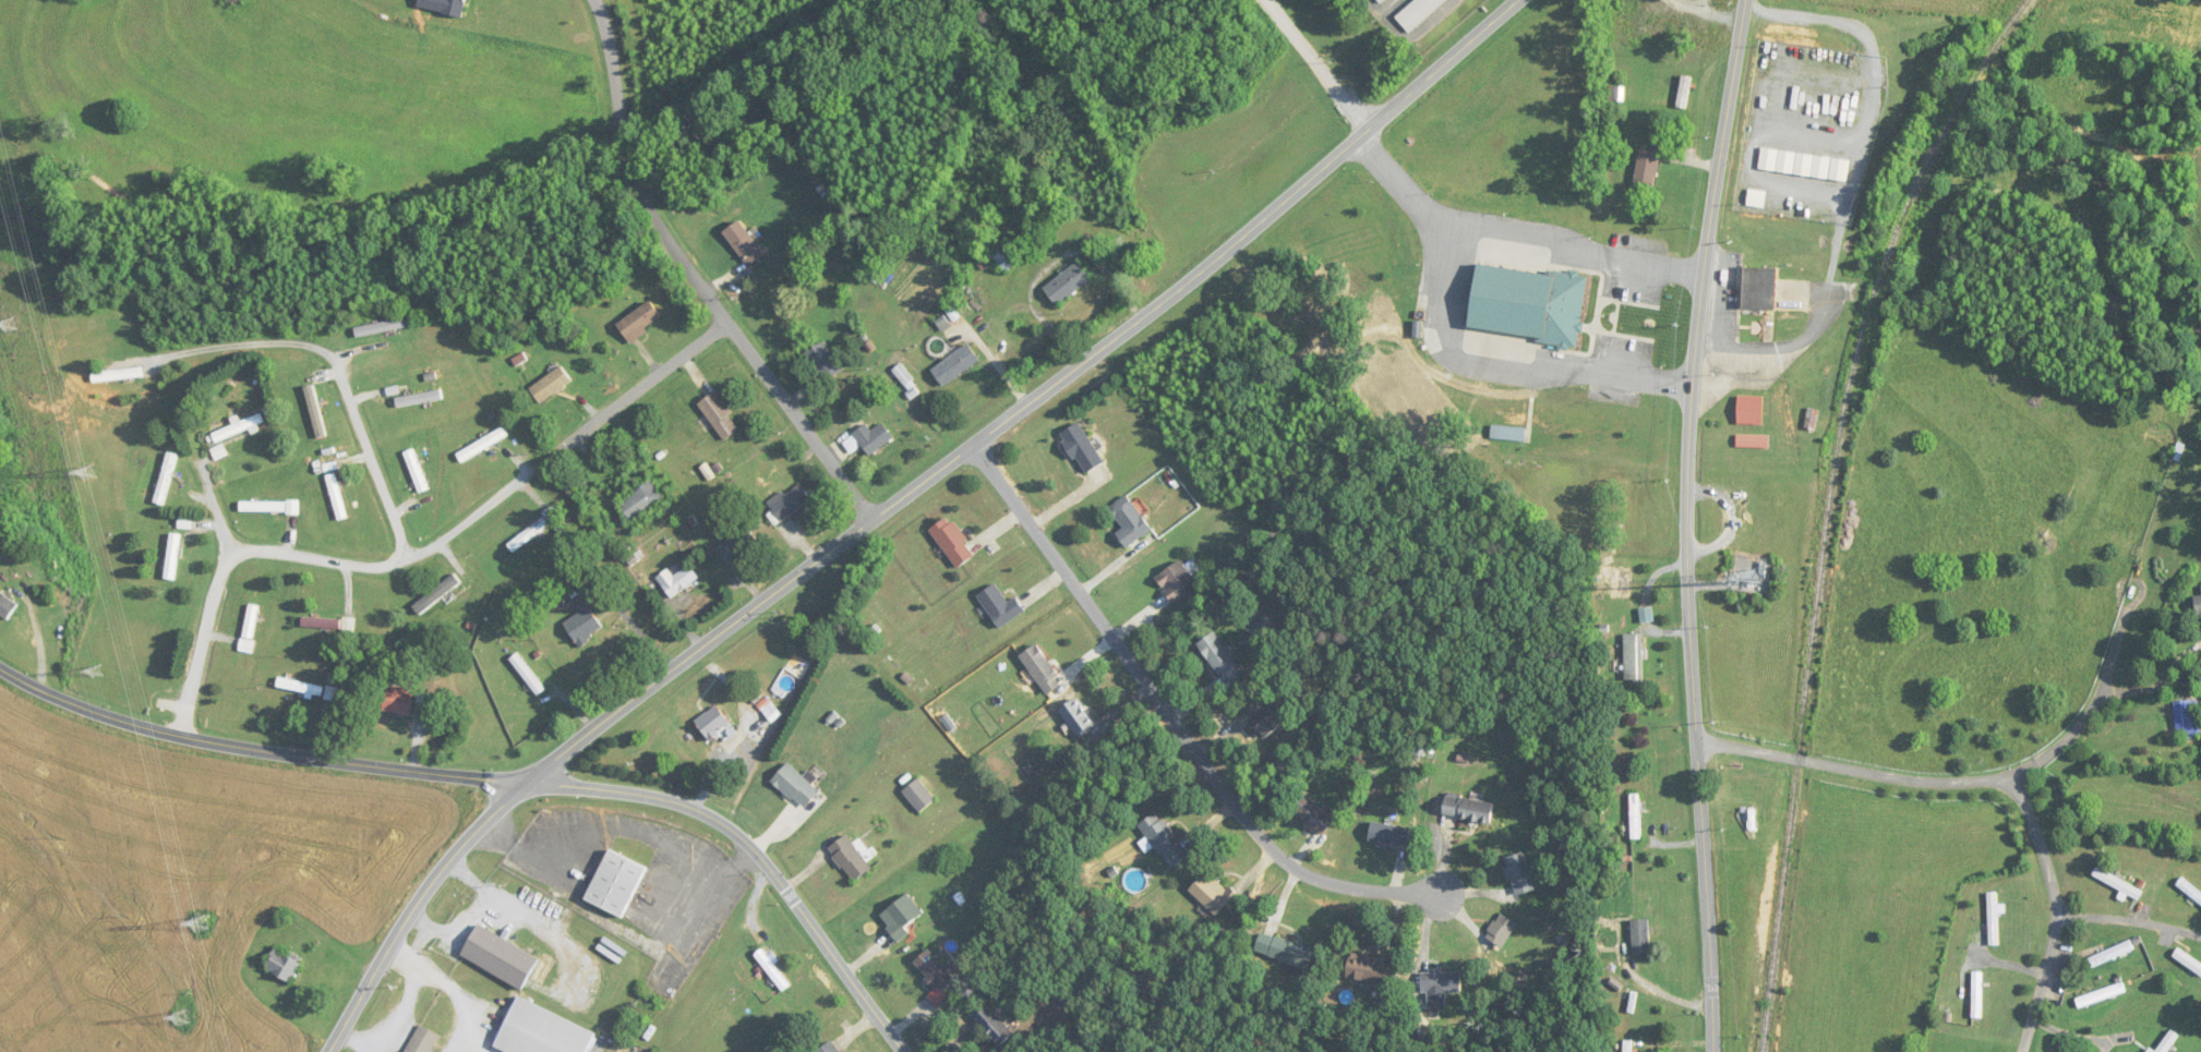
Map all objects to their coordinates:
building: (1380, 1)
building: (455, 8)
building: (1418, 13)
building: (1653, 26)
road: (1323, 63)
building: (1646, 169)
road: (1851, 181)
road: (1517, 232)
building: (745, 244)
road: (697, 276)
building: (1069, 283)
building: (1757, 290)
building: (1526, 304)
building: (641, 322)
power tower: (10, 325)
building: (381, 328)
road: (230, 353)
road: (993, 360)
building: (825, 362)
building: (957, 365)
road: (1500, 374)
building: (117, 375)
road: (650, 382)
building: (551, 385)
building: (419, 399)
building: (315, 411)
building: (721, 415)
building: (678, 419)
building: (1811, 419)
building: (239, 427)
building: (1507, 433)
building: (869, 439)
building: (1752, 442)
building: (482, 444)
building: (1083, 448)
building: (2178, 451)
building: (417, 471)
building: (166, 477)
building: (337, 496)
road: (897, 501)
building: (790, 503)
building: (269, 507)
building: (1129, 521)
building: (185, 522)
road: (467, 522)
road: (1688, 523)
building: (532, 529)
building: (954, 542)
building: (737, 544)
building: (173, 556)
road: (386, 556)
building: (1176, 580)
building: (678, 581)
building: (436, 593)
road: (199, 603)
building: (999, 605)
building: (2198, 605)
building: (7, 606)
building: (322, 624)
building: (585, 625)
building: (250, 628)
building: (1633, 657)
building: (1220, 658)
power tower: (96, 668)
building: (1041, 668)
building: (301, 687)
building: (399, 701)
building: (1077, 717)
road: (2084, 717)
building: (1262, 718)
building: (2187, 718)
building: (715, 722)
road: (1174, 725)
road: (1804, 758)
road: (502, 779)
building: (796, 785)
building: (918, 794)
building: (1467, 808)
building: (1312, 814)
building: (1636, 817)
building: (1388, 835)
building: (1164, 839)
building: (850, 857)
road: (2047, 864)
building: (1519, 873)
building: (617, 883)
building: (2190, 890)
building: (1213, 893)
building: (900, 916)
building: (1994, 918)
power tower: (201, 923)
building: (1501, 930)
building: (1640, 936)
building: (1284, 950)
building: (2110, 954)
building: (502, 957)
building: (2187, 960)
building: (284, 965)
building: (772, 969)
building: (935, 969)
building: (1371, 969)
building: (1440, 981)
building: (1976, 994)
building: (2101, 994)
power tower: (183, 1018)
building: (994, 1026)
building: (542, 1031)
building: (424, 1040)
building: (1627, 1045)
building: (830, 1047)

